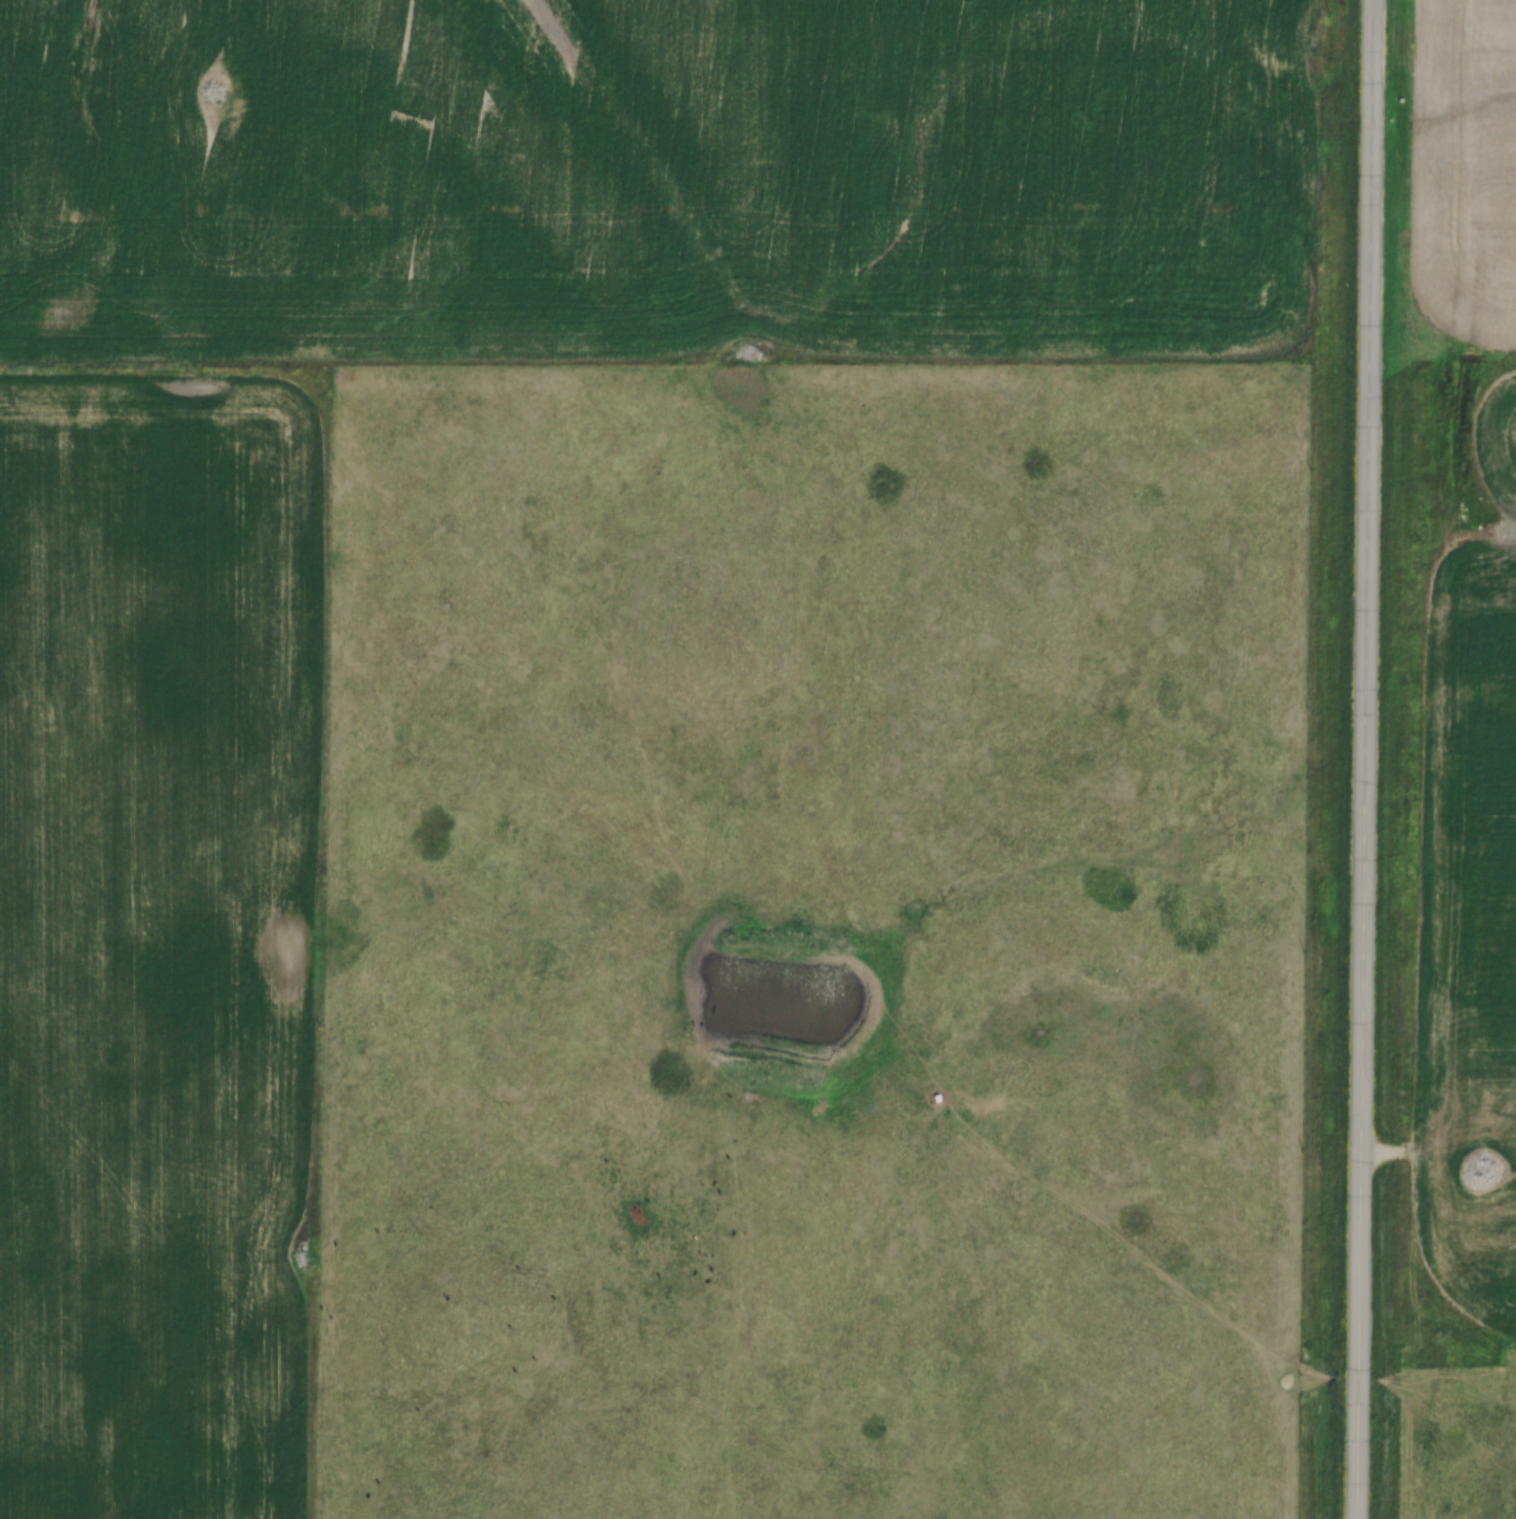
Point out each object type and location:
road: (1366, 759)

